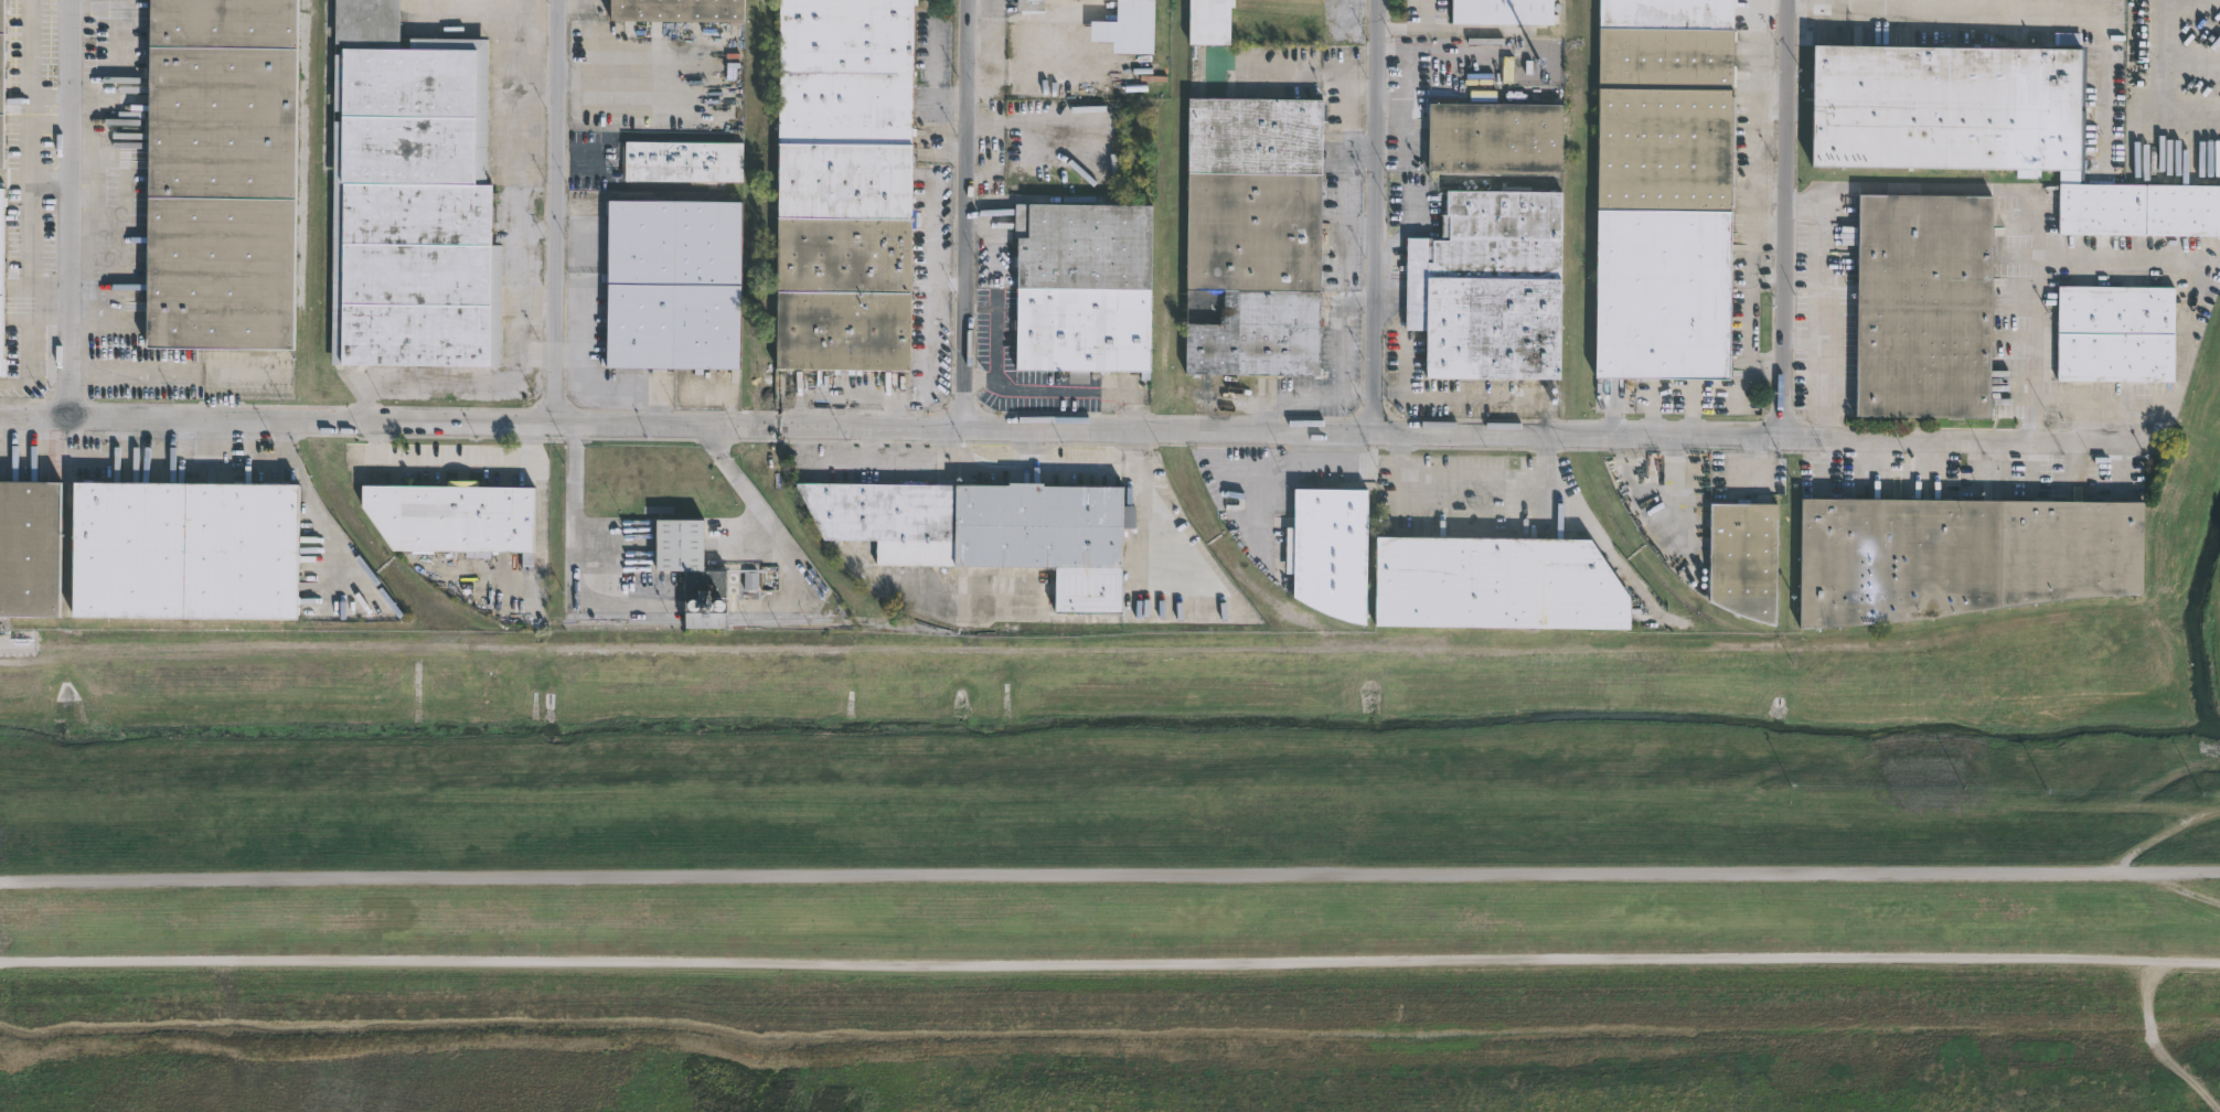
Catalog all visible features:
building: (1146, 0)
road: (1933, 1)
building: (1028, 4)
road: (980, 8)
building: (1131, 9)
building: (674, 10)
road: (1424, 13)
building: (1509, 14)
building: (1207, 22)
road: (1386, 46)
road: (1444, 46)
road: (2159, 79)
building: (2, 84)
building: (1947, 108)
road: (1351, 117)
building: (1495, 135)
building: (682, 161)
building: (220, 173)
road: (34, 182)
building: (842, 185)
building: (1664, 190)
road: (2027, 190)
building: (407, 196)
road: (31, 206)
road: (68, 209)
building: (2139, 210)
road: (555, 211)
road: (964, 214)
road: (1375, 214)
road: (1787, 218)
building: (1252, 236)
building: (679, 282)
road: (948, 282)
building: (1, 284)
building: (1488, 287)
building: (1081, 289)
building: (1924, 308)
road: (1824, 320)
road: (2186, 321)
building: (2116, 334)
road: (1805, 339)
road: (1342, 345)
road: (933, 359)
road: (1061, 394)
road: (1223, 397)
road: (894, 410)
road: (1055, 429)
railway: (1177, 429)
road: (1032, 449)
road: (98, 461)
road: (455, 464)
road: (878, 466)
road: (1040, 470)
road: (1470, 479)
road: (746, 488)
road: (574, 499)
building: (453, 516)
road: (1161, 525)
building: (985, 527)
building: (31, 546)
building: (191, 548)
building: (1330, 549)
building: (1744, 554)
building: (1958, 555)
building: (698, 571)
building: (1495, 581)
building: (319, 607)
railway: (787, 621)
railway: (1395, 643)
road: (1110, 790)
power tower: (555, 812)
power tower: (867, 812)
power tower: (1180, 814)
power tower: (1648, 814)
power tower: (127, 815)
power tower: (1960, 817)
road: (2160, 835)
road: (1110, 877)
road: (2173, 886)
park: (1119, 898)
road: (1110, 958)

